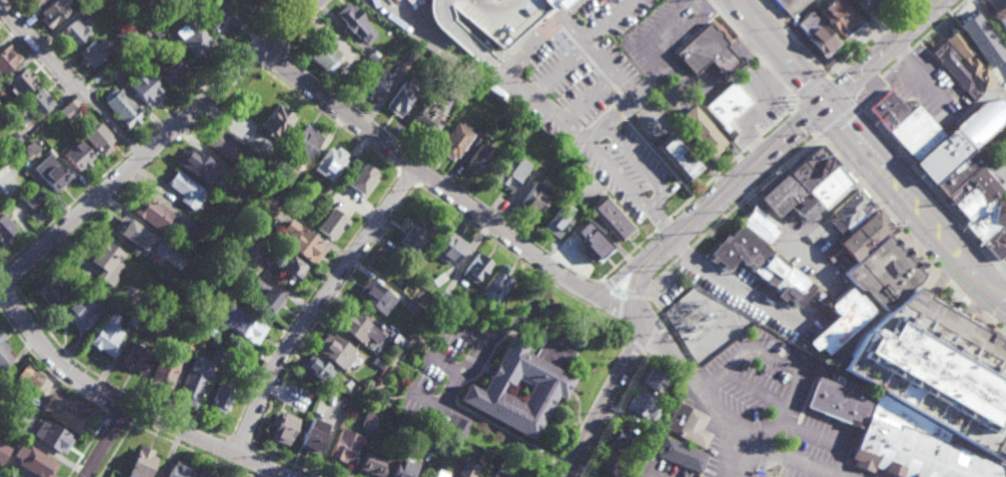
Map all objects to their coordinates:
building: (259, 0)
road: (965, 0)
building: (95, 1)
building: (28, 2)
building: (170, 2)
building: (393, 3)
road: (471, 4)
building: (870, 4)
road: (767, 7)
building: (788, 7)
building: (52, 10)
road: (581, 10)
road: (460, 15)
building: (1000, 16)
building: (218, 19)
road: (307, 19)
road: (778, 19)
road: (954, 19)
parking garage: (492, 20)
building: (838, 20)
building: (356, 21)
road: (615, 22)
building: (506, 23)
road: (988, 24)
road: (938, 25)
road: (734, 28)
building: (153, 29)
building: (74, 30)
road: (490, 31)
building: (124, 33)
road: (278, 33)
road: (544, 35)
road: (868, 37)
building: (190, 38)
building: (820, 39)
building: (981, 39)
road: (464, 41)
road: (54, 43)
road: (43, 48)
building: (92, 51)
road: (806, 51)
road: (586, 52)
road: (781, 52)
building: (320, 53)
building: (373, 53)
building: (413, 53)
building: (705, 53)
road: (273, 54)
road: (534, 55)
road: (905, 55)
road: (467, 56)
building: (7, 58)
road: (248, 60)
building: (970, 60)
road: (38, 63)
road: (767, 65)
road: (939, 65)
building: (110, 67)
building: (362, 67)
building: (166, 68)
building: (955, 68)
parking lot: (570, 70)
road: (677, 71)
road: (559, 75)
road: (925, 79)
building: (21, 81)
road: (876, 82)
power tower: (786, 83)
building: (372, 85)
building: (143, 87)
road: (787, 87)
road: (812, 89)
road: (90, 90)
building: (454, 91)
road: (841, 91)
building: (400, 99)
road: (81, 100)
building: (35, 101)
road: (522, 102)
road: (607, 102)
traffic signals: (828, 104)
building: (121, 107)
building: (726, 107)
building: (66, 109)
building: (888, 110)
building: (426, 118)
road: (834, 119)
building: (276, 120)
road: (329, 120)
road: (807, 120)
road: (115, 125)
building: (700, 131)
road: (148, 133)
building: (914, 134)
building: (11, 139)
building: (455, 140)
building: (959, 140)
road: (159, 142)
building: (103, 143)
building: (302, 143)
building: (228, 148)
building: (77, 155)
road: (836, 159)
building: (479, 160)
building: (679, 160)
building: (329, 163)
road: (406, 163)
building: (640, 163)
road: (732, 163)
road: (785, 163)
building: (195, 164)
road: (433, 169)
parking lot: (997, 169)
power tower: (731, 170)
building: (960, 171)
building: (510, 173)
road: (134, 175)
building: (54, 176)
road: (425, 177)
building: (360, 179)
road: (408, 179)
road: (1004, 180)
building: (808, 182)
road: (860, 185)
building: (242, 186)
road: (628, 187)
building: (185, 189)
road: (447, 191)
road: (929, 191)
building: (973, 194)
road: (749, 195)
building: (30, 197)
building: (532, 200)
building: (280, 201)
road: (838, 202)
road: (916, 205)
building: (268, 206)
building: (804, 207)
road: (707, 208)
building: (850, 212)
building: (154, 214)
building: (557, 219)
building: (609, 219)
road: (717, 223)
building: (330, 224)
building: (980, 224)
road: (661, 225)
building: (759, 226)
building: (4, 230)
road: (900, 231)
building: (132, 232)
building: (197, 232)
building: (414, 234)
road: (789, 234)
building: (241, 238)
building: (859, 238)
building: (996, 238)
building: (301, 242)
building: (590, 246)
building: (449, 248)
power tower: (641, 251)
building: (995, 252)
road: (684, 253)
building: (226, 255)
road: (627, 255)
building: (177, 259)
road: (523, 260)
building: (388, 261)
building: (107, 262)
building: (761, 266)
building: (475, 269)
building: (289, 270)
power tower: (659, 270)
road: (658, 277)
road: (6, 278)
building: (437, 279)
road: (943, 280)
building: (492, 287)
road: (742, 289)
road: (6, 292)
road: (591, 292)
building: (51, 295)
road: (621, 295)
road: (957, 295)
building: (821, 296)
building: (131, 297)
building: (264, 297)
building: (375, 297)
building: (441, 297)
road: (306, 300)
road: (316, 305)
building: (408, 305)
building: (153, 306)
road: (525, 307)
road: (325, 310)
power tower: (688, 310)
road: (972, 310)
building: (431, 311)
building: (79, 313)
building: (133, 318)
building: (840, 322)
power substation: (705, 323)
road: (992, 323)
building: (244, 327)
road: (416, 327)
building: (163, 328)
building: (357, 328)
road: (655, 332)
road: (675, 334)
building: (1, 336)
building: (106, 336)
building: (189, 340)
building: (397, 340)
road: (637, 342)
building: (335, 352)
building: (3, 356)
building: (217, 358)
building: (135, 360)
road: (785, 362)
building: (377, 363)
road: (392, 363)
building: (231, 366)
road: (46, 369)
building: (318, 370)
road: (465, 370)
road: (696, 373)
building: (164, 374)
parking garage: (931, 375)
building: (33, 379)
building: (919, 379)
road: (107, 380)
building: (651, 380)
building: (193, 382)
building: (1, 384)
building: (521, 386)
road: (757, 390)
building: (358, 392)
road: (596, 397)
building: (222, 398)
building: (663, 399)
road: (112, 401)
building: (308, 406)
road: (796, 406)
building: (641, 407)
road: (125, 409)
parking lot: (767, 411)
road: (136, 412)
road: (613, 413)
building: (64, 414)
road: (731, 419)
road: (116, 420)
building: (368, 421)
building: (404, 424)
building: (450, 425)
building: (689, 425)
building: (283, 429)
road: (507, 436)
building: (313, 437)
building: (433, 437)
building: (51, 438)
road: (825, 439)
road: (855, 439)
building: (619, 440)
road: (104, 443)
road: (241, 443)
road: (86, 446)
building: (345, 447)
road: (223, 450)
road: (113, 451)
road: (190, 451)
building: (3, 453)
building: (682, 455)
road: (740, 455)
building: (479, 457)
road: (247, 460)
building: (33, 462)
road: (286, 462)
building: (374, 462)
road: (560, 463)
building: (141, 464)
building: (609, 464)
building: (770, 464)
building: (504, 468)
building: (404, 470)
building: (466, 470)
parking lot: (660, 470)
building: (180, 471)
road: (562, 472)
building: (204, 475)
building: (439, 475)
road: (571, 475)
building: (9, 476)

